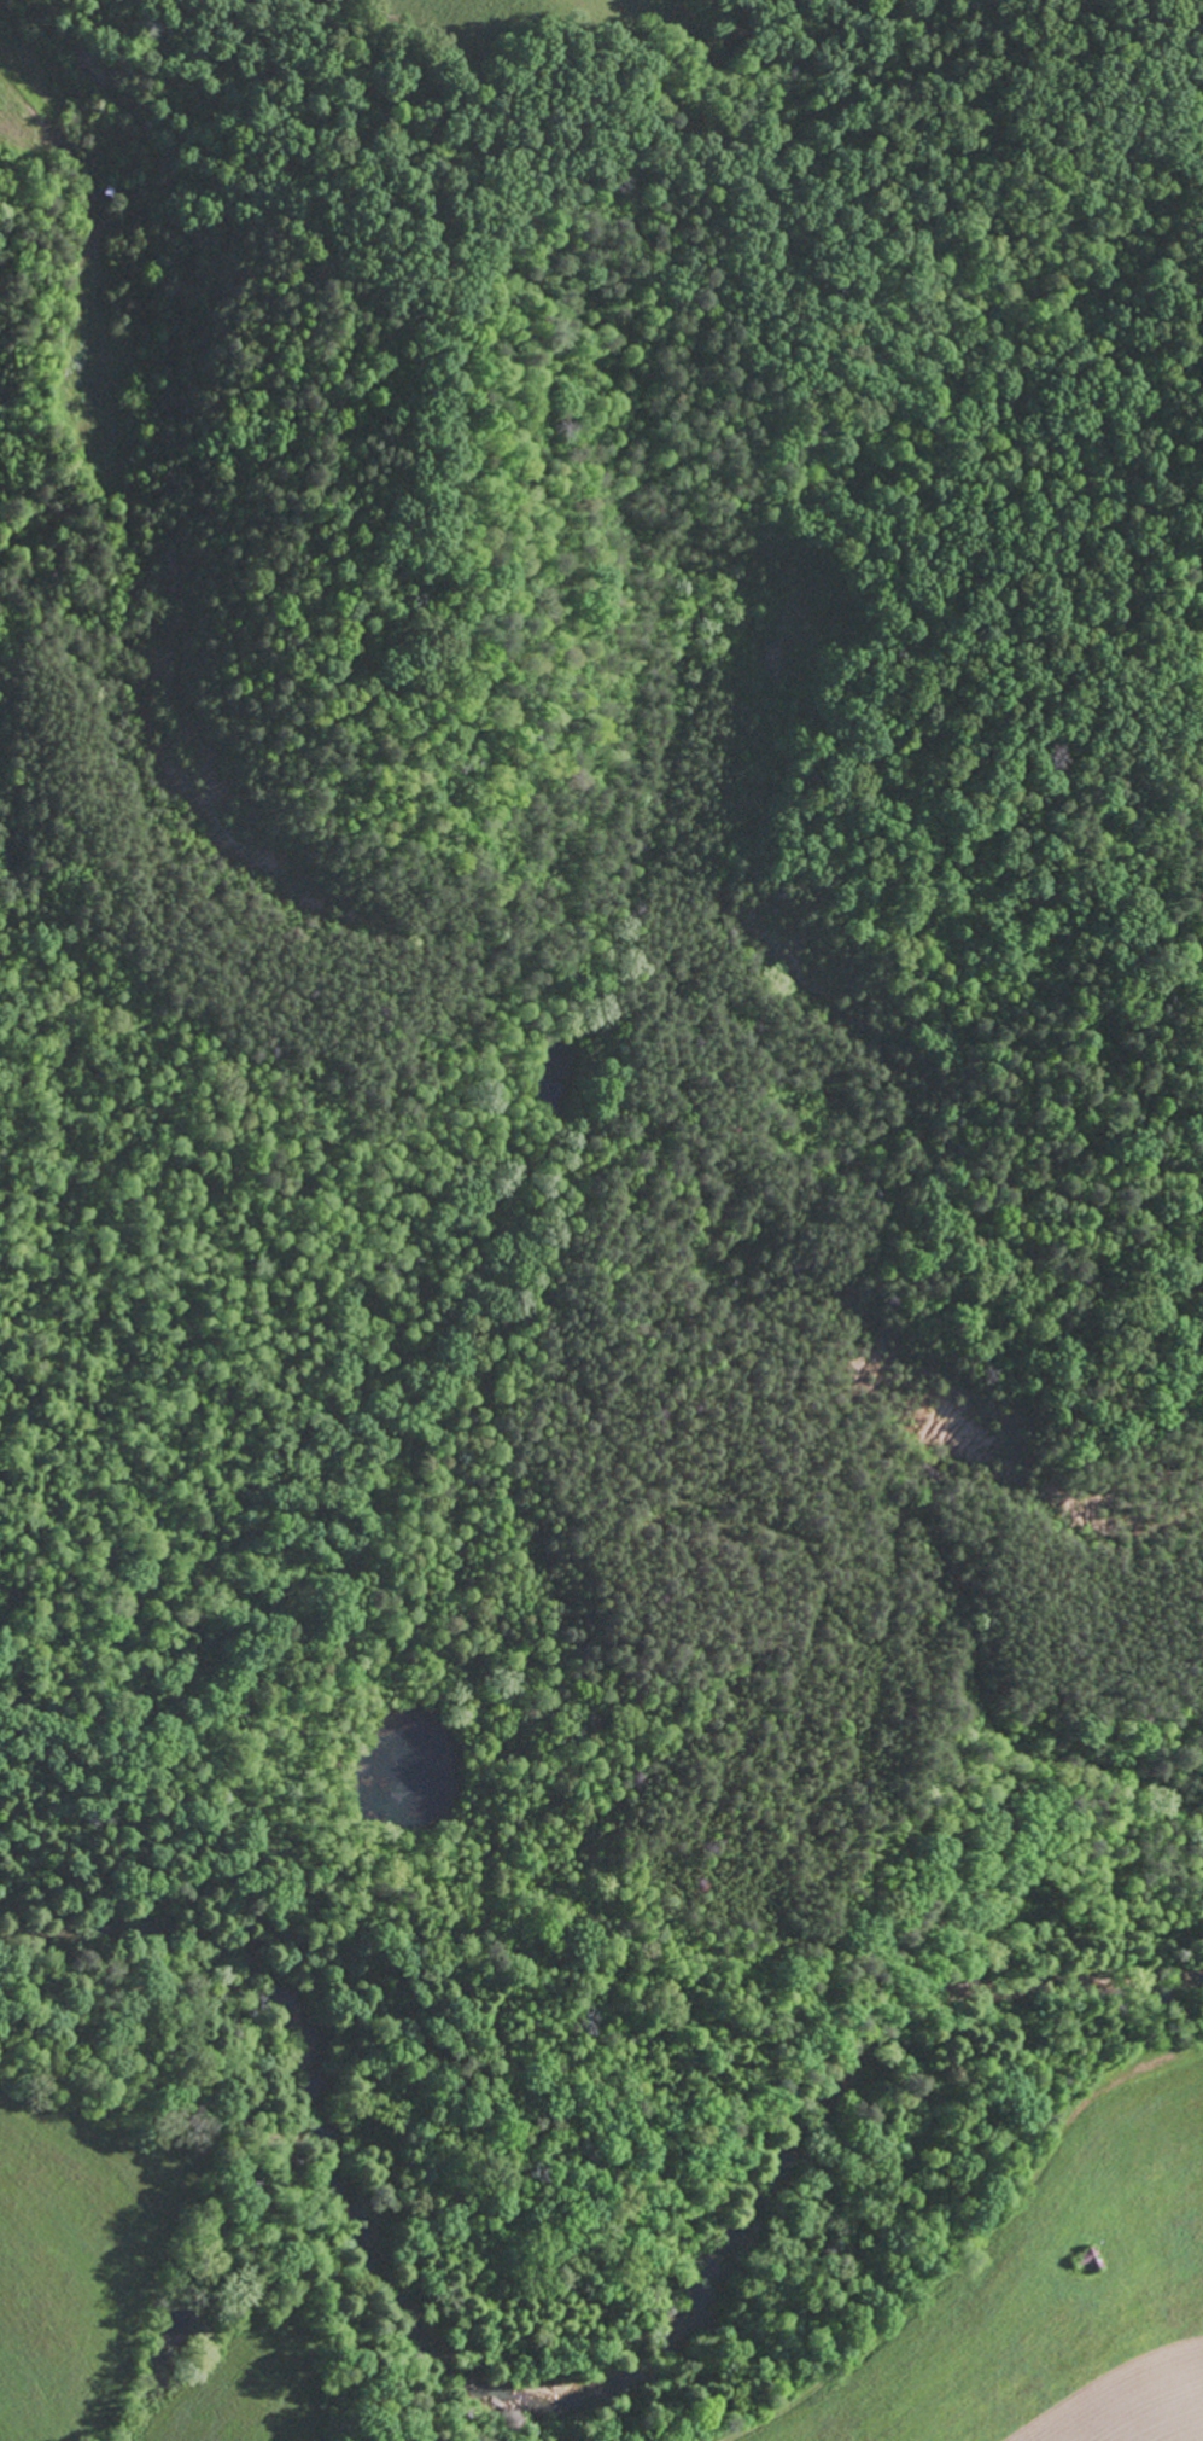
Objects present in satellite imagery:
road: (805, 2436)

